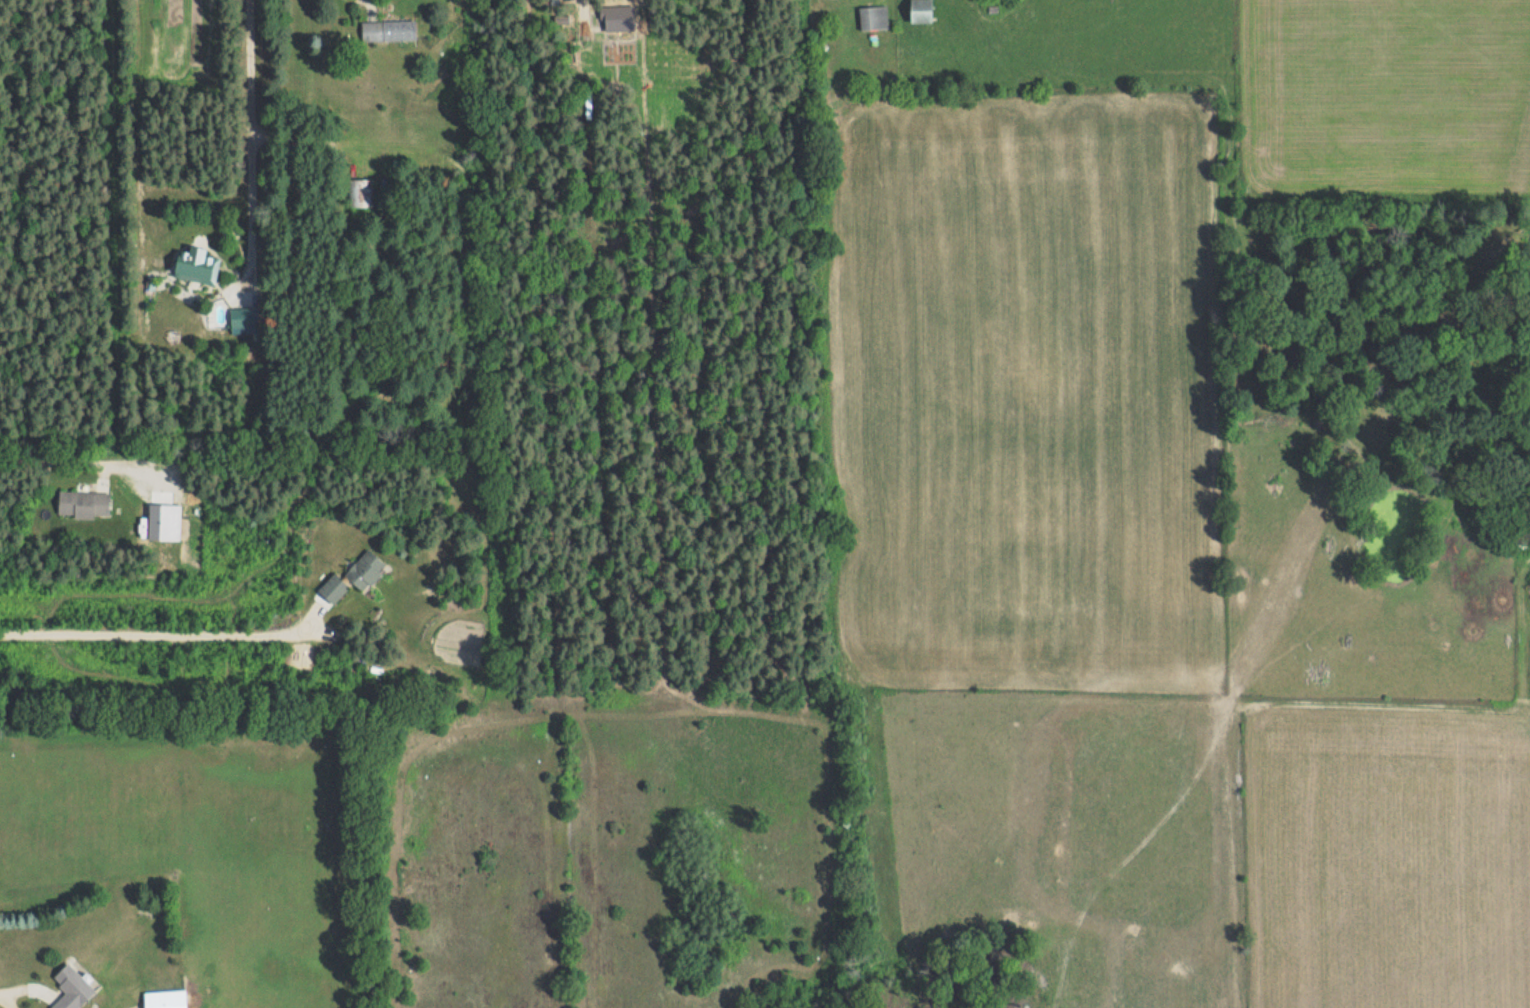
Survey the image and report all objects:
building: (921, 10)
building: (873, 17)
building: (388, 30)
road: (260, 136)
building: (360, 191)
building: (196, 264)
building: (244, 317)
road: (60, 460)
building: (84, 503)
building: (365, 569)
building: (333, 588)
road: (163, 633)
road: (21, 988)
building: (71, 989)
building: (166, 999)

